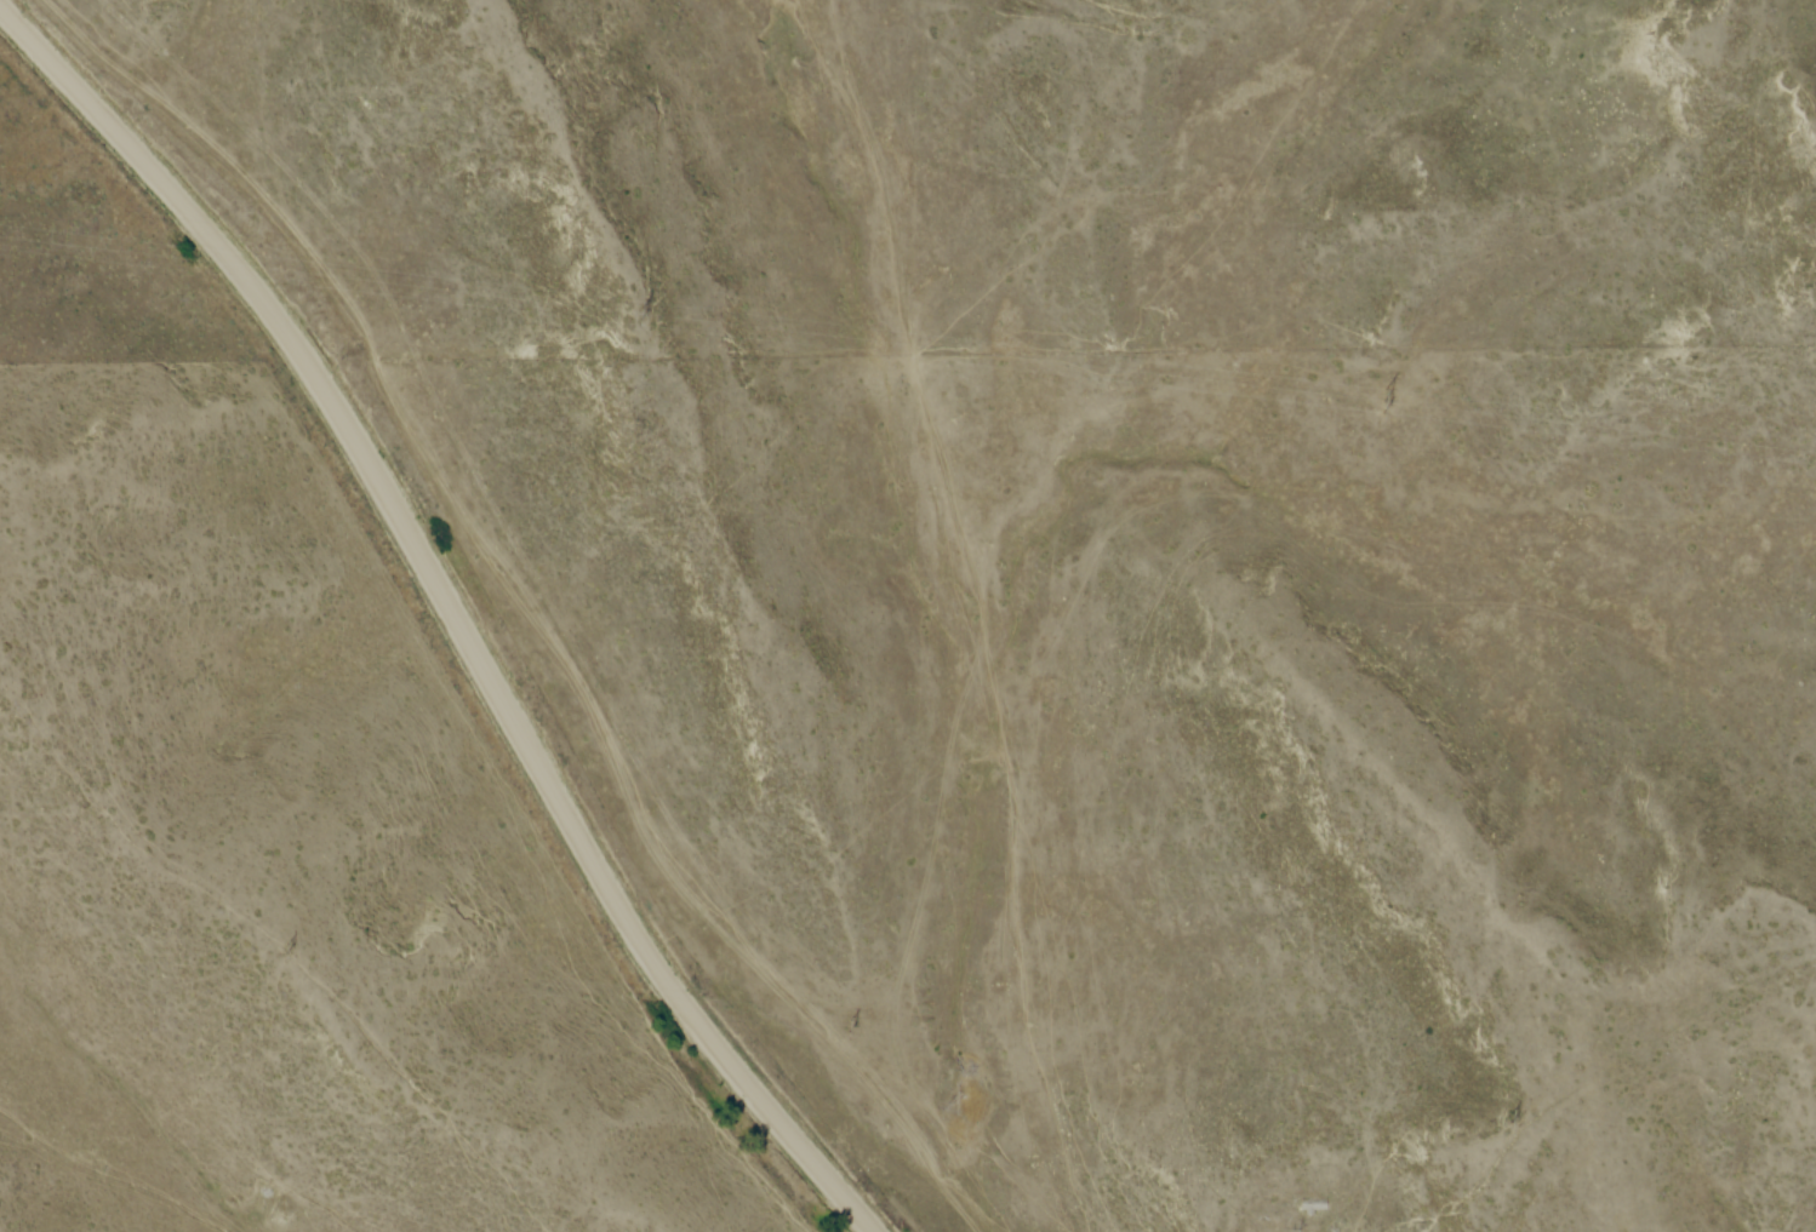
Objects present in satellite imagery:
power tower: (638, 316)
power tower: (1381, 403)
road: (458, 606)

